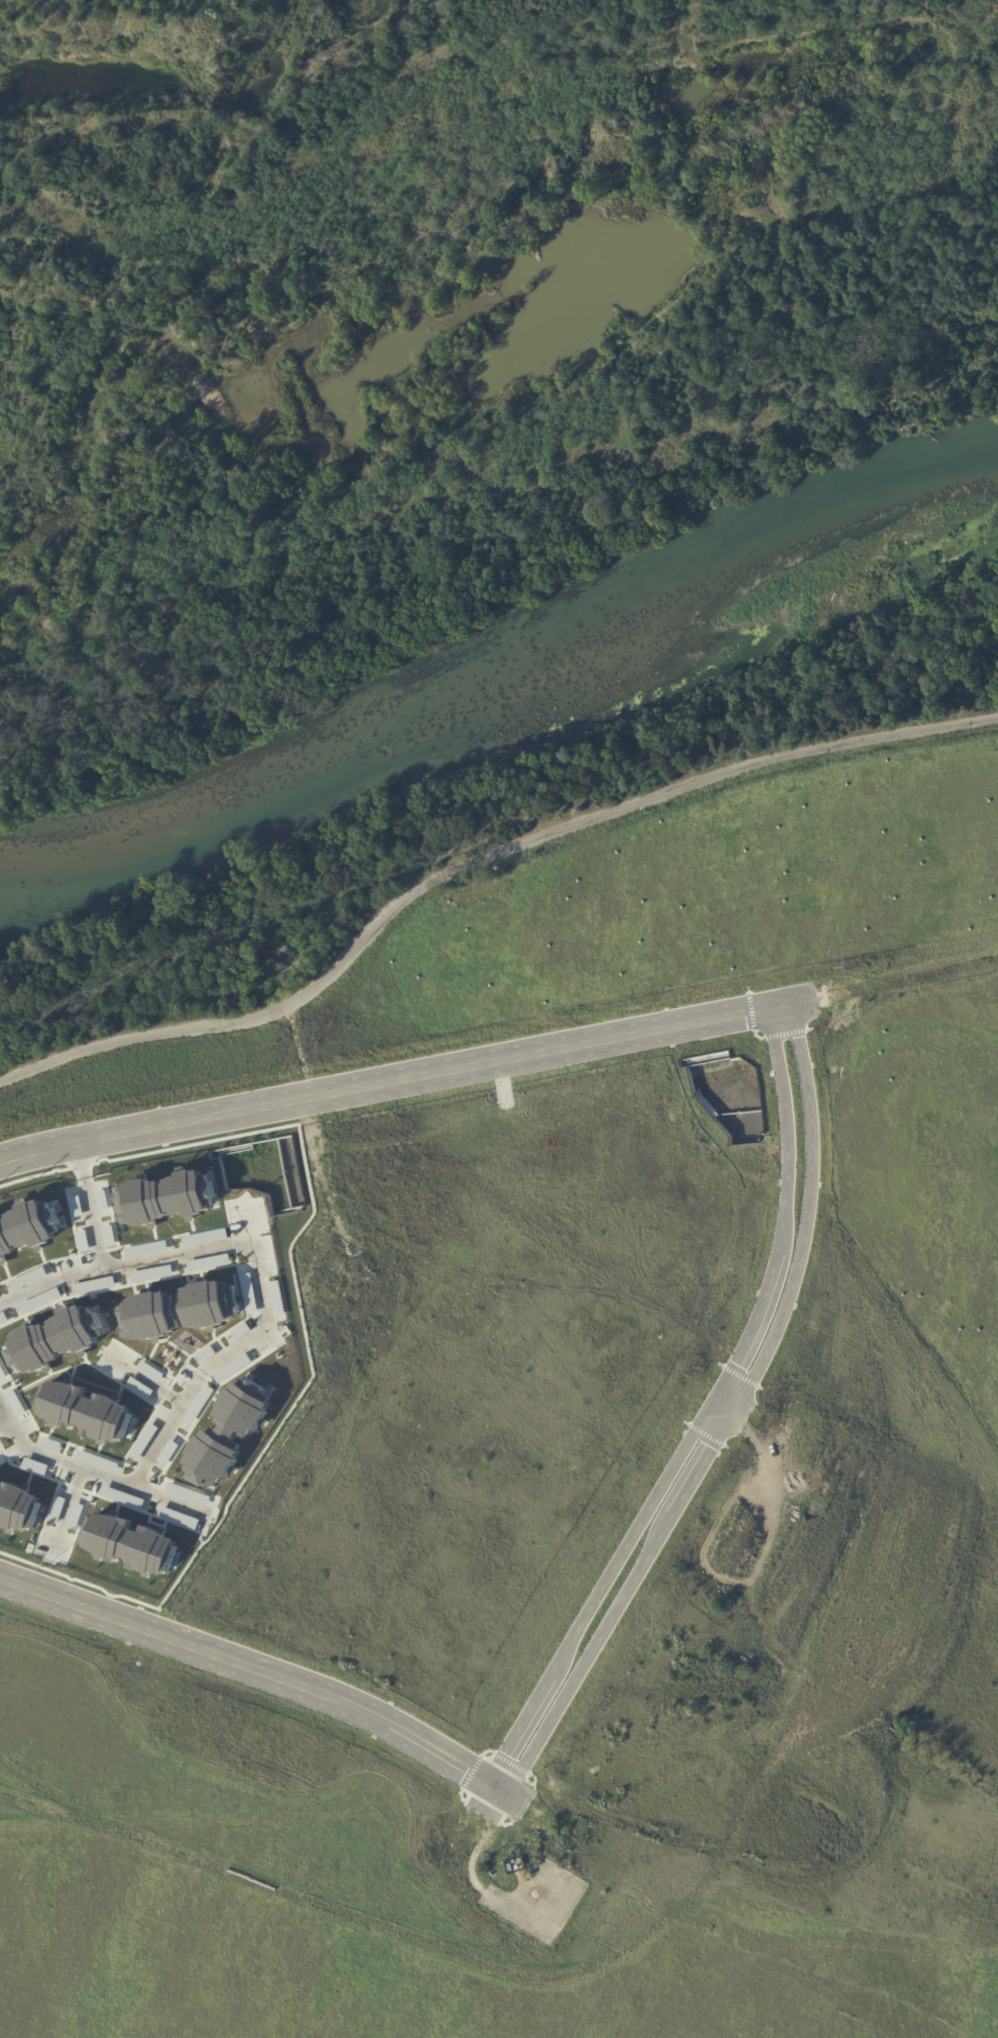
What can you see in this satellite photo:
road: (461, 171)
road: (504, 184)
river: (504, 672)
road: (480, 868)
road: (397, 1083)
road: (93, 1205)
road: (269, 1321)
road: (7, 1401)
road: (725, 1406)
road: (709, 1417)
road: (727, 1419)
road: (7, 1422)
road: (261, 1670)
building: (511, 1868)

